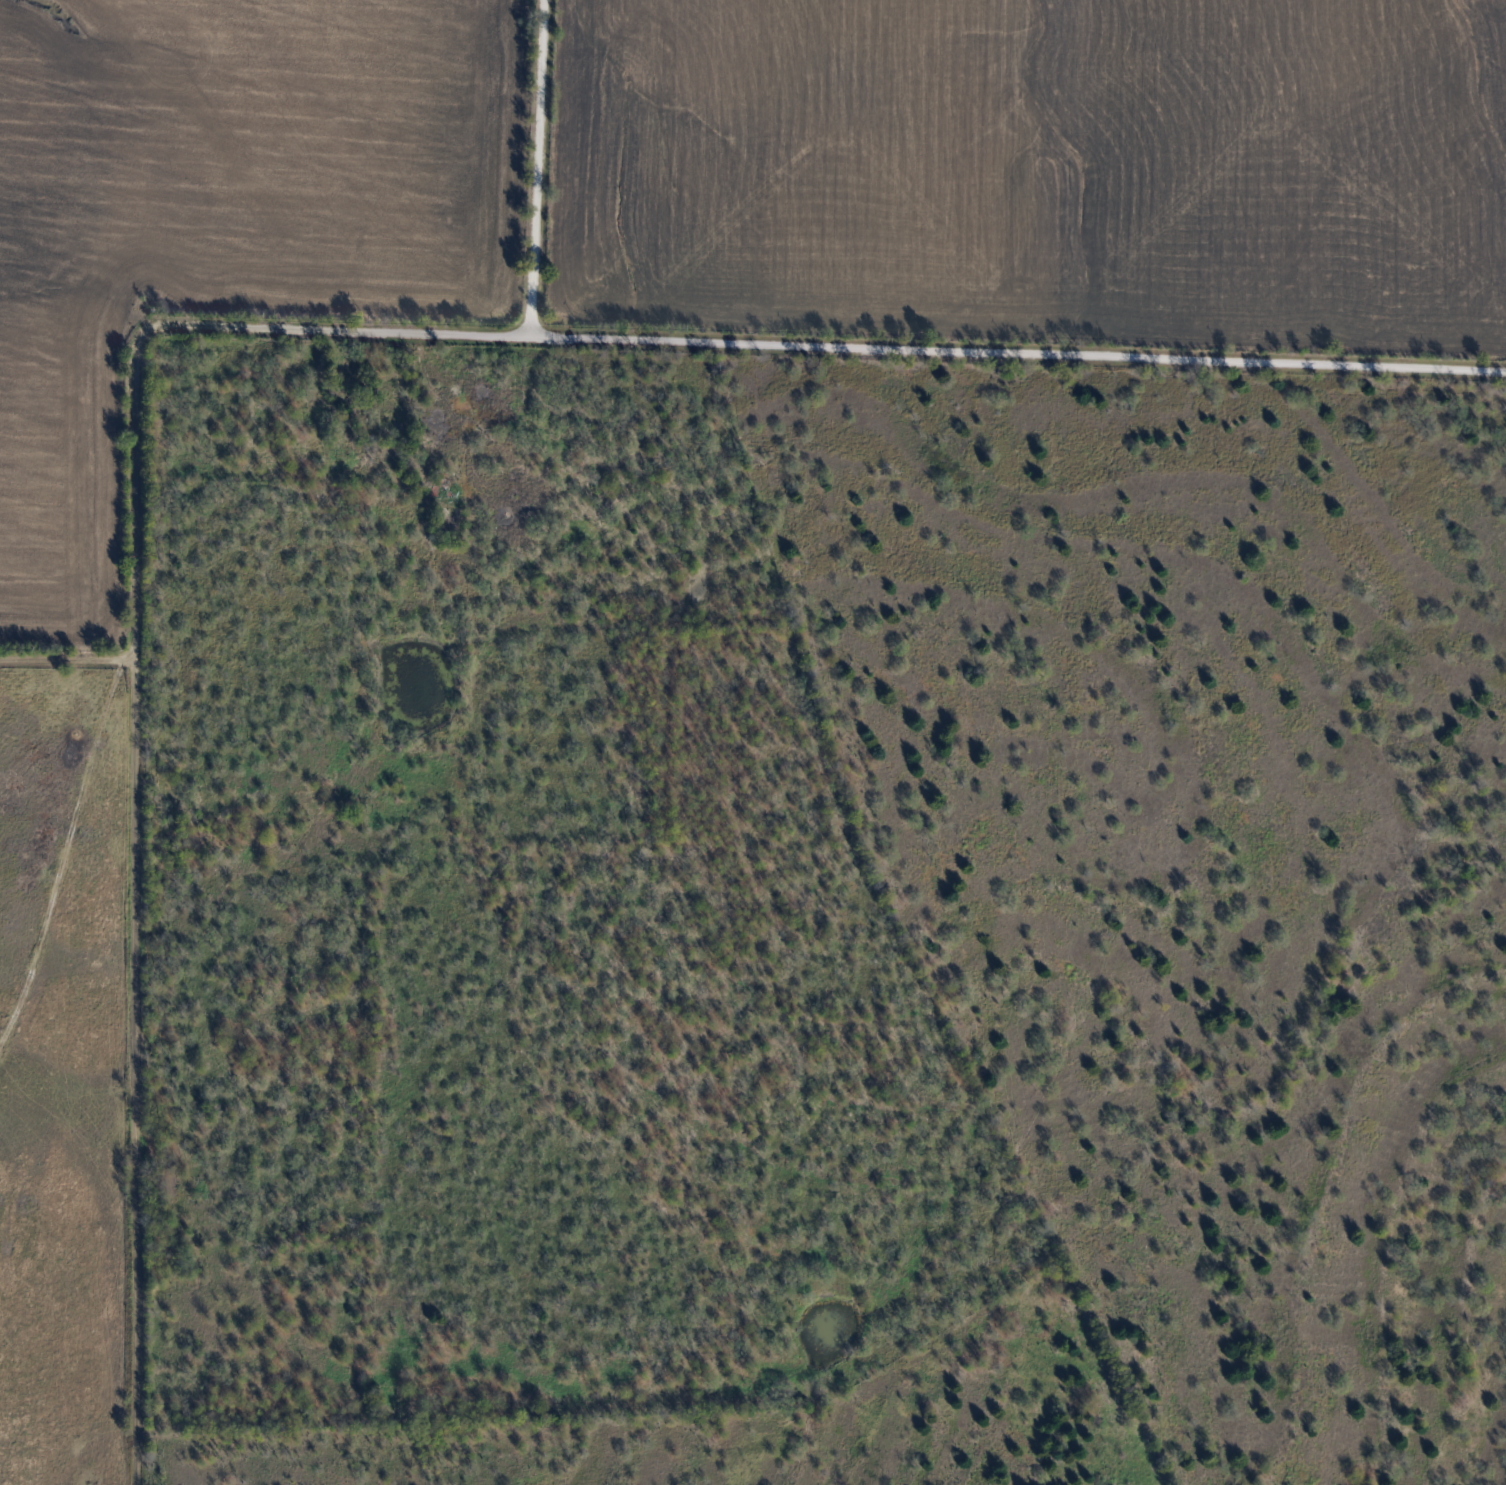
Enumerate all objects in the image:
road: (535, 169)
road: (660, 342)
road: (66, 657)
road: (133, 1071)

